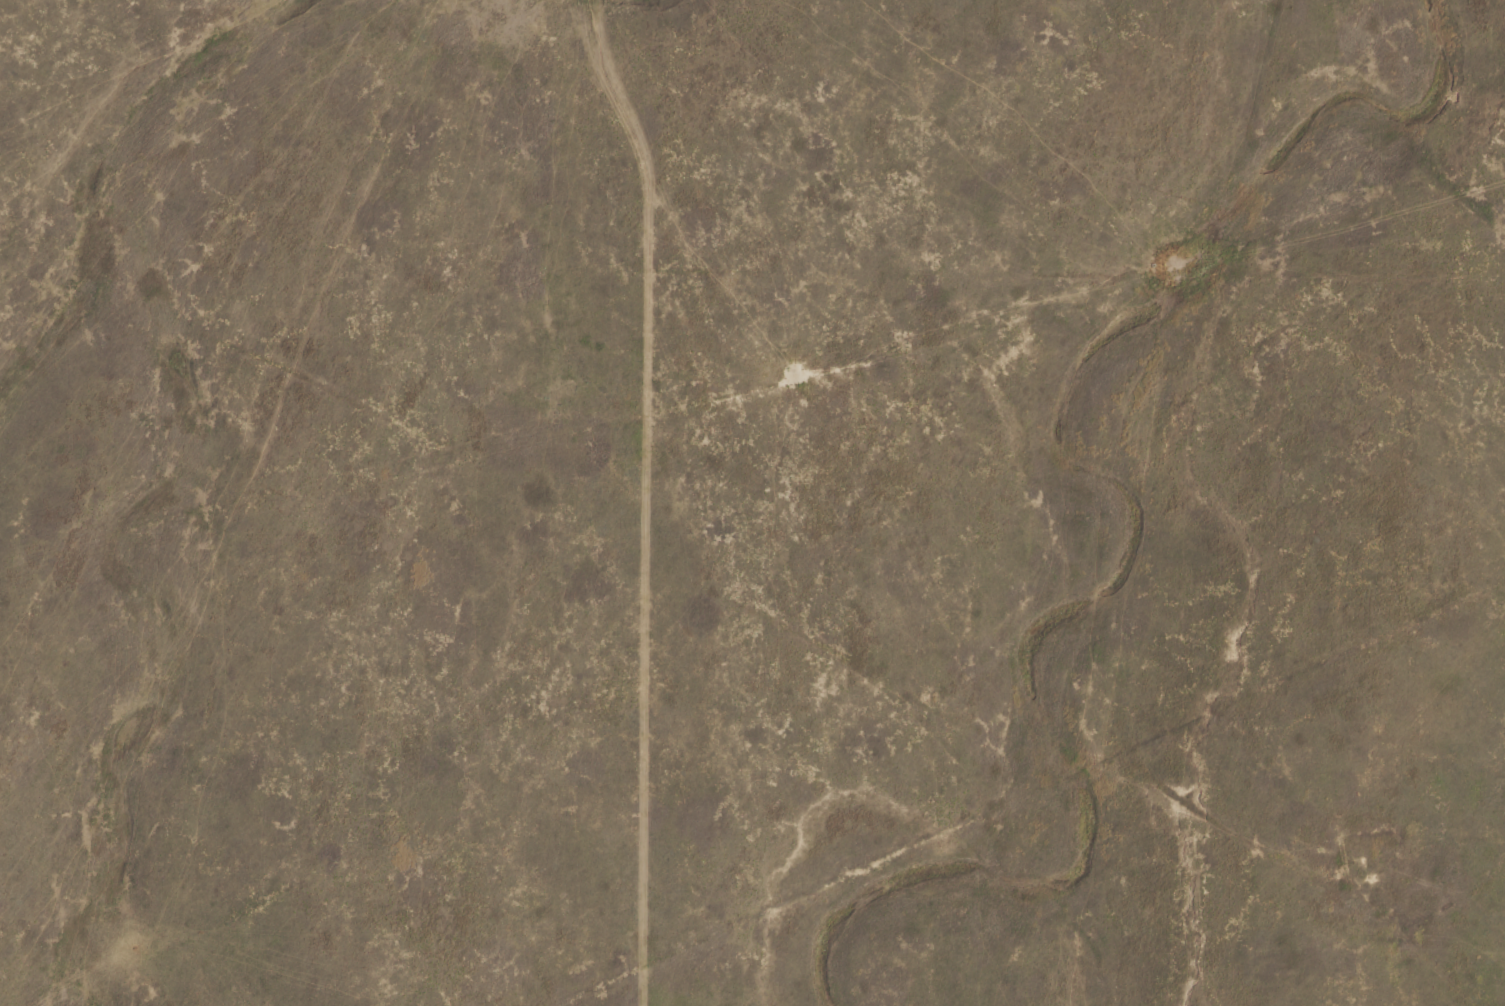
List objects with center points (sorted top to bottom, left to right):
road: (1355, 344)

